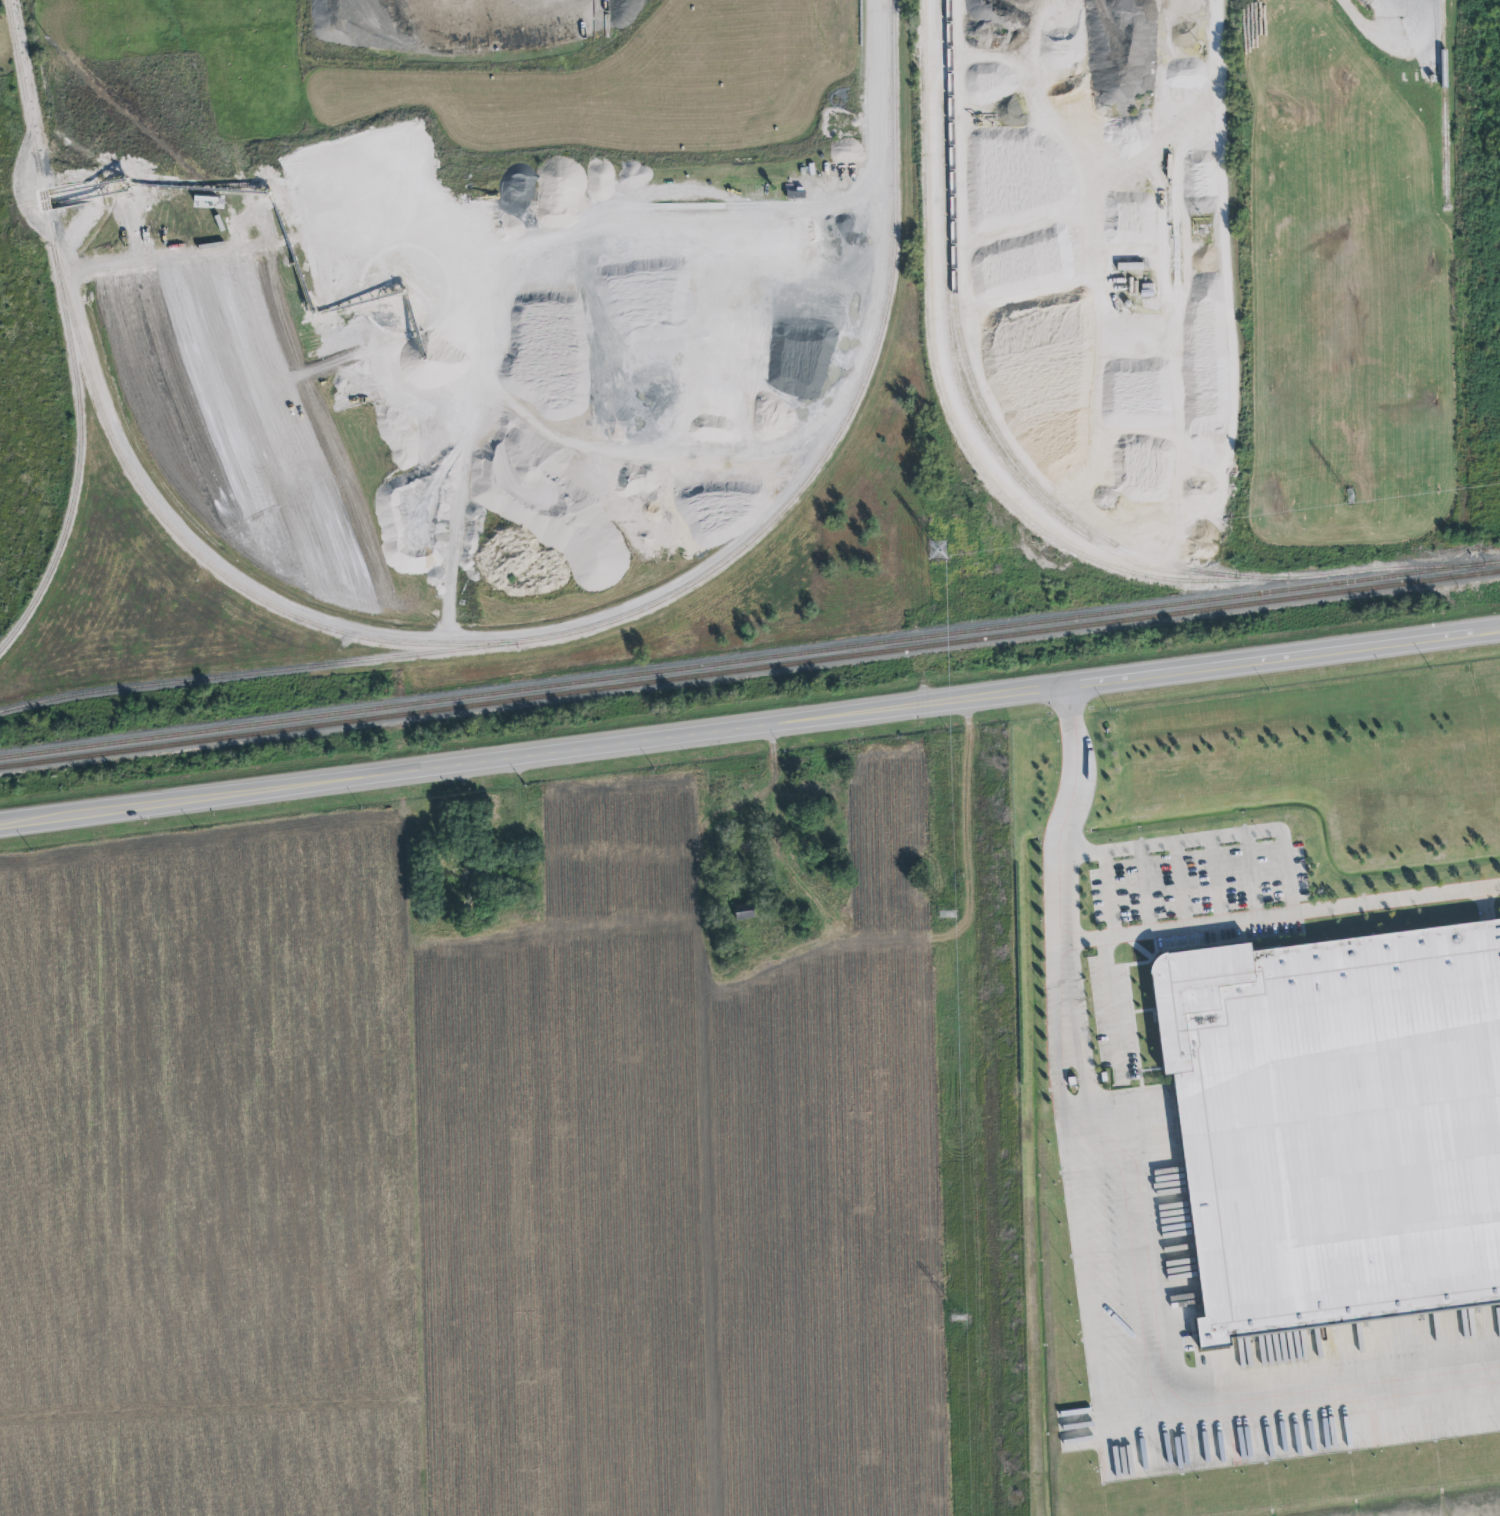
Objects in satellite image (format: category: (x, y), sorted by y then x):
road: (1406, 21)
road: (1216, 57)
railway: (949, 364)
railway: (945, 411)
railway: (846, 413)
railway: (117, 456)
railway: (76, 460)
railway: (1023, 474)
power tower: (1347, 495)
power tower: (935, 551)
road: (915, 644)
railway: (750, 660)
railway: (749, 669)
railway: (257, 673)
road: (749, 728)
road: (1209, 838)
building: (744, 912)
power tower: (949, 914)
road: (1154, 930)
building: (1337, 1121)
power tower: (957, 1317)
road: (1097, 1376)
building: (1491, 1407)

